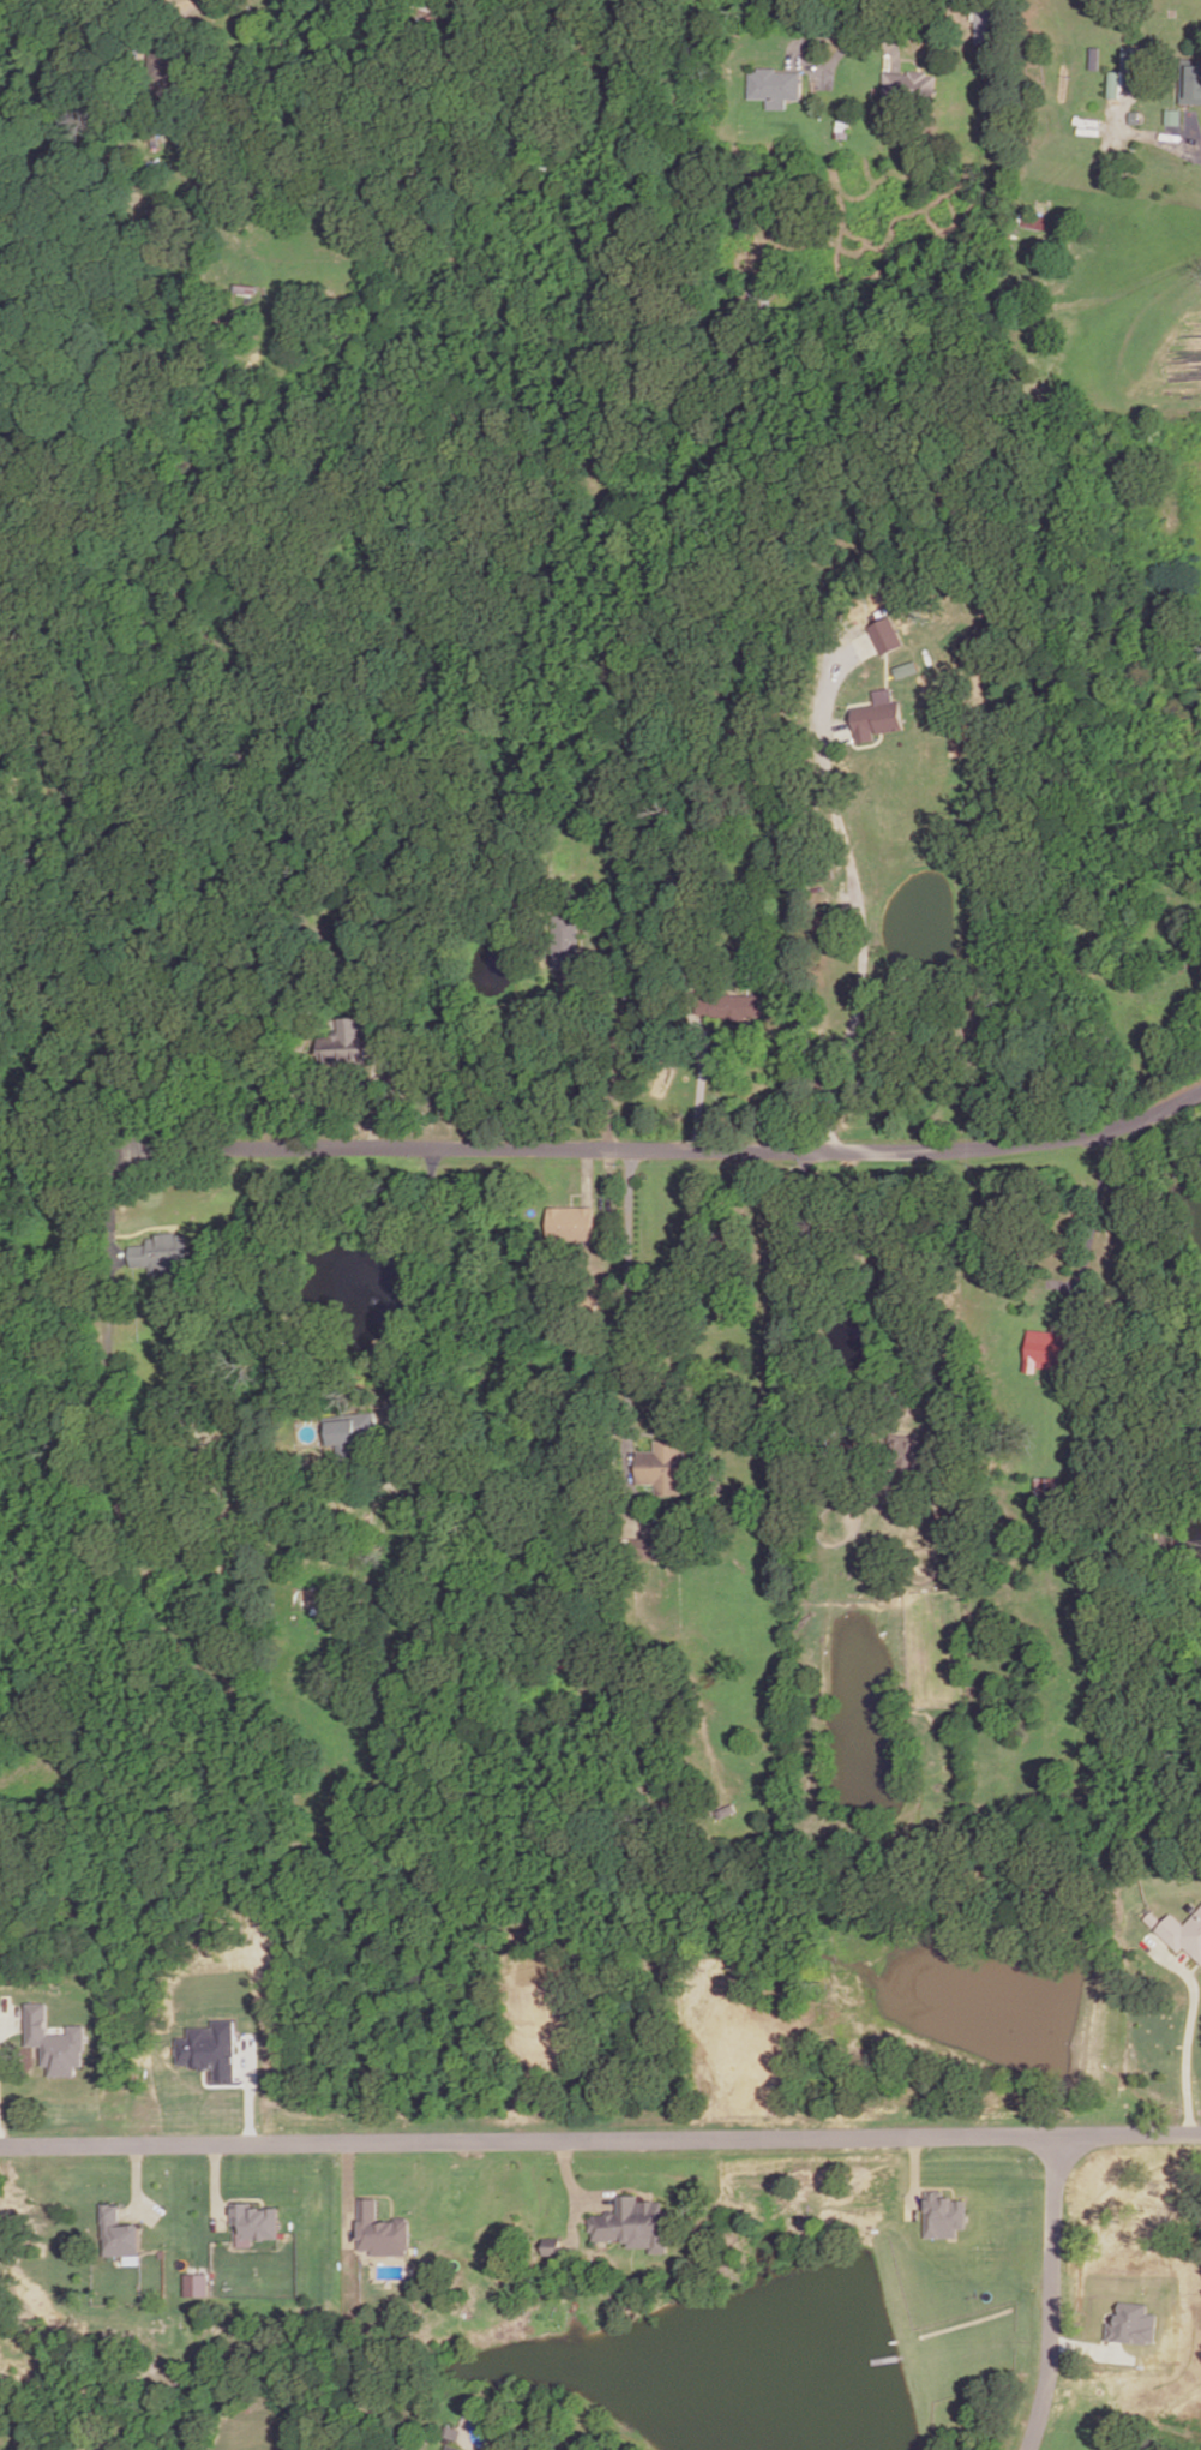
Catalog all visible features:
building: (436, 16)
building: (984, 20)
road: (895, 31)
road: (833, 34)
building: (167, 65)
building: (1124, 68)
building: (1107, 84)
building: (1187, 86)
building: (774, 88)
building: (908, 89)
building: (1128, 118)
building: (1166, 118)
building: (1083, 126)
building: (842, 131)
road: (1157, 143)
building: (745, 222)
building: (753, 299)
building: (885, 635)
building: (906, 669)
building: (876, 715)
road: (860, 912)
building: (563, 944)
building: (739, 1006)
building: (338, 1050)
road: (600, 1059)
road: (698, 1092)
road: (372, 1095)
road: (680, 1150)
road: (586, 1176)
road: (119, 1209)
building: (571, 1226)
road: (609, 1227)
road: (304, 1230)
building: (161, 1256)
road: (809, 1277)
road: (432, 1281)
road: (627, 1293)
building: (584, 1301)
building: (1045, 1349)
building: (350, 1430)
building: (1080, 1466)
building: (668, 1467)
building: (1047, 1487)
building: (136, 1511)
building: (644, 1550)
building: (308, 1600)
building: (1183, 1933)
building: (54, 2042)
building: (209, 2049)
road: (1194, 2059)
road: (600, 2140)
road: (571, 2187)
road: (346, 2194)
building: (943, 2215)
building: (254, 2222)
road: (574, 2224)
building: (639, 2224)
building: (383, 2233)
building: (554, 2248)
building: (196, 2284)
road: (1050, 2294)
building: (1131, 2324)
pier: (893, 2367)
building: (452, 2434)
building: (496, 2440)
building: (451, 2449)

